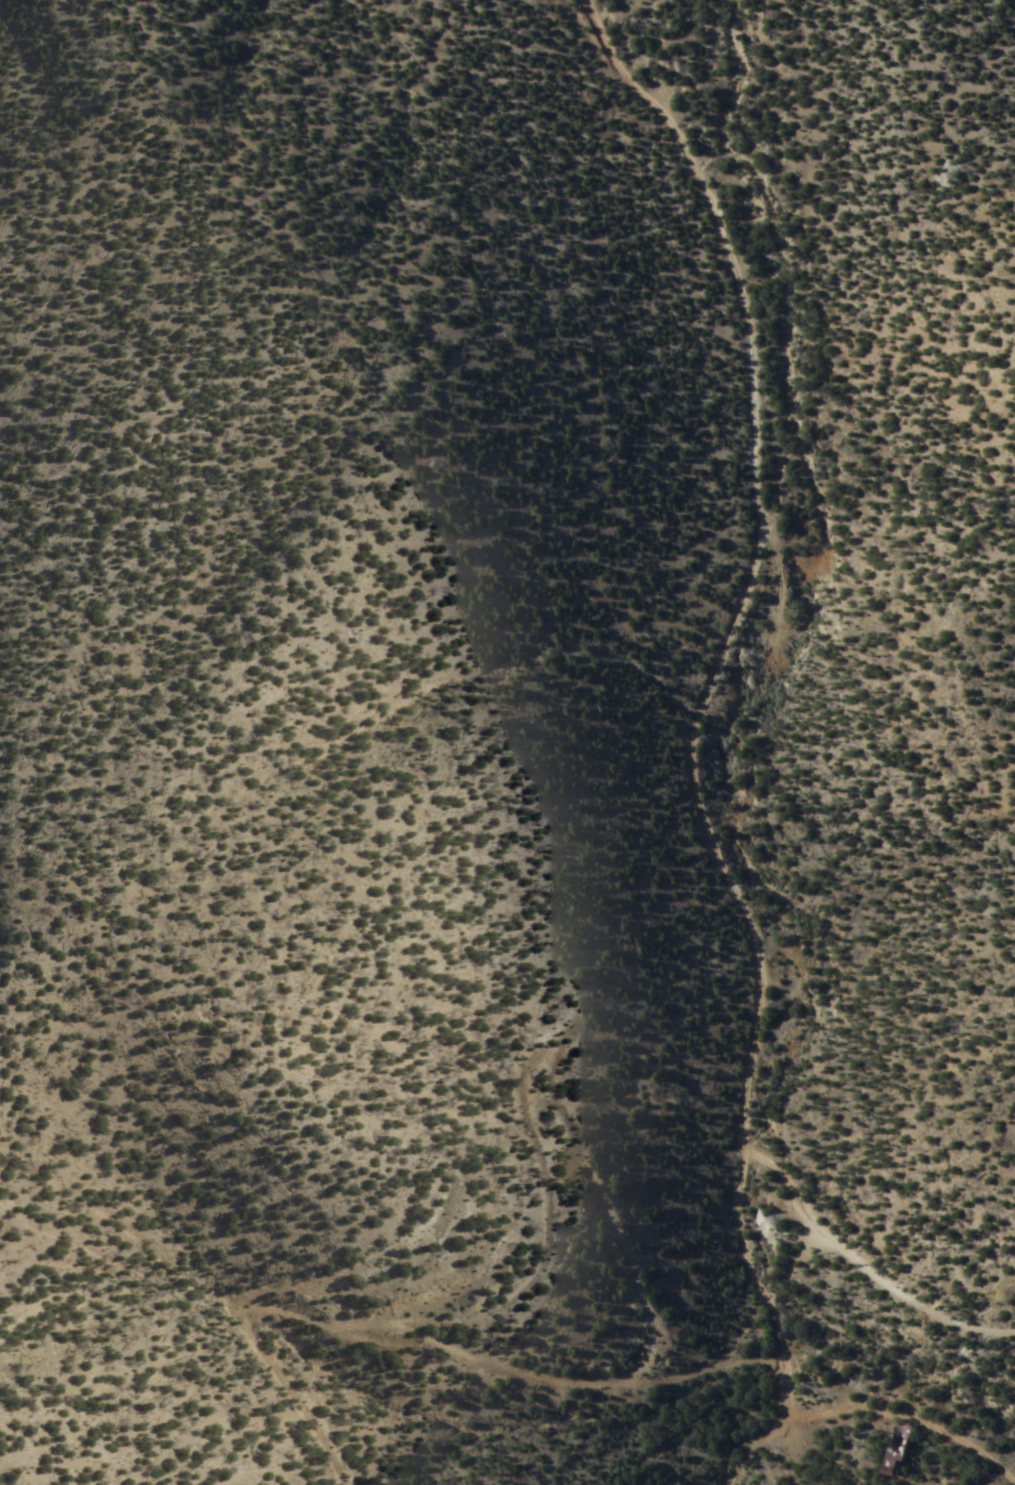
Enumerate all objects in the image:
building: (902, 1449)

